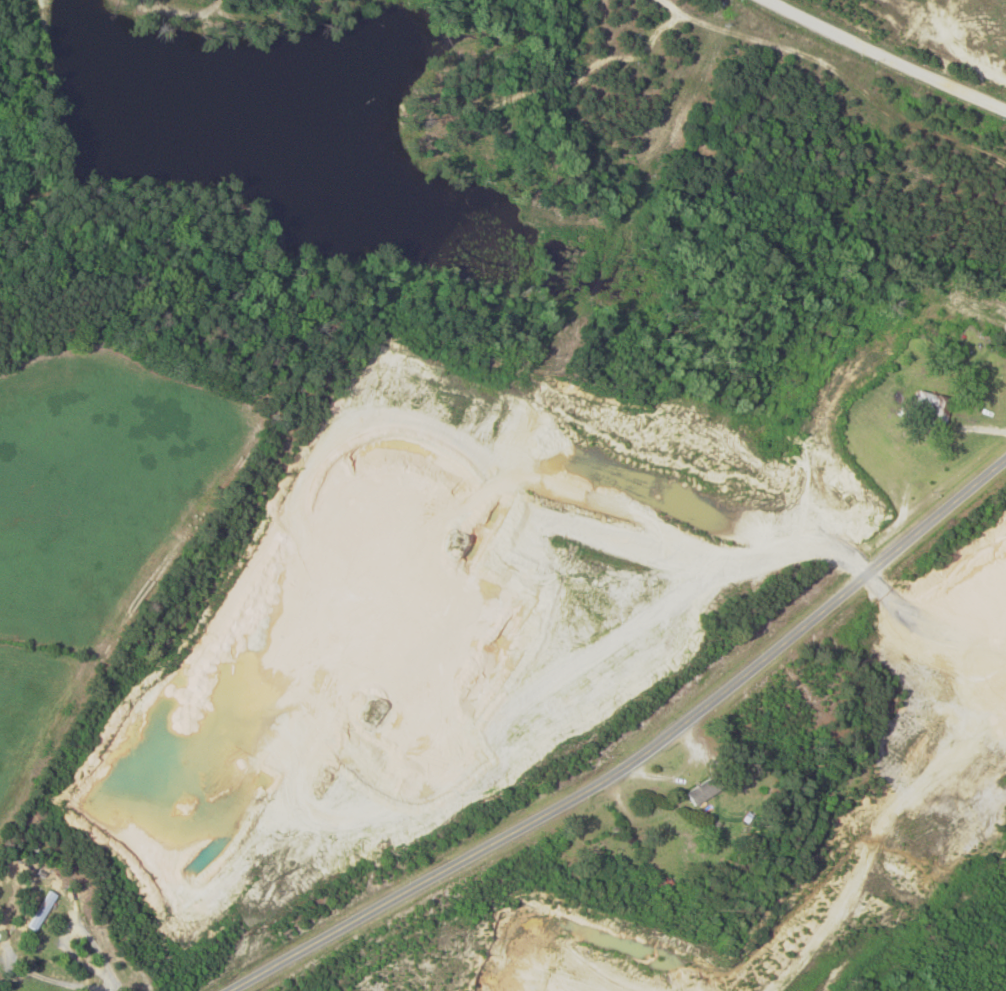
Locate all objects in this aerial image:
road: (888, 54)
dam: (56, 89)
dam: (64, 187)
building: (933, 405)
road: (628, 770)
building: (703, 791)
building: (0, 936)

